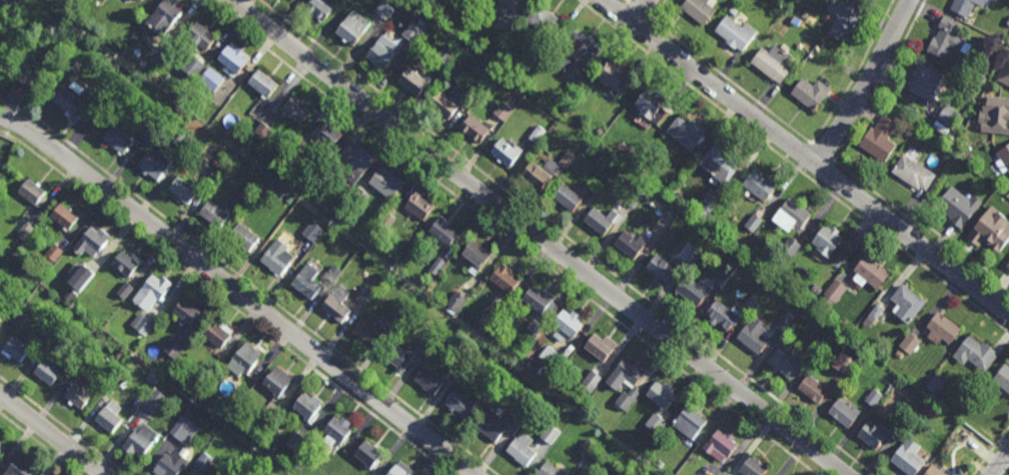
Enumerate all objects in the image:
building: (144, 0)
building: (291, 0)
building: (138, 1)
building: (350, 1)
road: (627, 1)
road: (629, 1)
building: (511, 3)
building: (965, 7)
building: (317, 9)
road: (637, 9)
road: (660, 10)
building: (698, 10)
building: (384, 11)
road: (640, 11)
building: (732, 11)
road: (619, 13)
building: (805, 15)
building: (0, 17)
building: (162, 17)
building: (466, 21)
building: (843, 21)
building: (542, 22)
building: (1008, 23)
building: (351, 29)
road: (643, 31)
building: (413, 33)
building: (735, 34)
building: (199, 37)
building: (51, 41)
building: (949, 41)
building: (574, 51)
building: (382, 54)
building: (499, 54)
building: (446, 55)
building: (231, 60)
building: (772, 64)
building: (193, 68)
road: (856, 73)
building: (1004, 75)
building: (614, 77)
building: (982, 79)
building: (212, 80)
building: (413, 81)
road: (731, 81)
road: (883, 82)
building: (922, 82)
building: (260, 84)
road: (868, 84)
building: (468, 94)
building: (809, 94)
building: (87, 95)
building: (68, 102)
building: (651, 106)
building: (443, 107)
building: (295, 111)
building: (176, 112)
building: (504, 112)
building: (210, 116)
building: (949, 117)
building: (995, 118)
building: (150, 127)
building: (941, 128)
building: (262, 131)
building: (472, 131)
building: (685, 132)
building: (326, 134)
building: (538, 136)
building: (879, 139)
building: (184, 140)
building: (116, 142)
building: (547, 148)
building: (621, 148)
road: (820, 151)
building: (505, 153)
road: (802, 155)
road: (807, 155)
building: (291, 157)
building: (1005, 158)
building: (689, 159)
building: (567, 160)
building: (719, 162)
building: (353, 163)
building: (643, 163)
road: (793, 166)
building: (154, 167)
road: (824, 171)
building: (913, 171)
building: (534, 176)
building: (208, 180)
building: (321, 181)
building: (386, 183)
building: (759, 186)
building: (182, 190)
building: (280, 193)
building: (30, 194)
building: (360, 196)
building: (241, 197)
building: (634, 197)
building: (565, 198)
building: (731, 201)
building: (704, 203)
building: (419, 208)
building: (958, 208)
building: (213, 215)
building: (791, 215)
building: (63, 218)
building: (600, 220)
building: (386, 221)
building: (753, 221)
road: (920, 223)
building: (21, 227)
building: (313, 230)
building: (443, 231)
building: (991, 231)
road: (508, 237)
road: (539, 237)
road: (566, 237)
building: (243, 238)
building: (91, 243)
building: (829, 243)
building: (629, 245)
building: (790, 245)
building: (52, 252)
building: (475, 254)
building: (689, 254)
building: (275, 257)
building: (126, 264)
building: (437, 265)
building: (1008, 266)
building: (659, 269)
building: (334, 272)
building: (869, 272)
building: (80, 276)
building: (720, 277)
building: (503, 279)
building: (306, 283)
road: (250, 284)
building: (125, 289)
building: (690, 291)
building: (152, 293)
road: (237, 293)
building: (832, 293)
building: (364, 294)
building: (69, 295)
building: (116, 298)
building: (537, 300)
building: (456, 301)
building: (750, 301)
road: (226, 302)
building: (336, 304)
building: (906, 304)
building: (397, 310)
building: (876, 311)
building: (184, 313)
building: (720, 315)
building: (18, 318)
building: (785, 321)
building: (142, 322)
building: (486, 322)
building: (843, 322)
building: (567, 324)
building: (536, 327)
building: (941, 329)
building: (151, 334)
building: (216, 334)
building: (367, 334)
building: (139, 335)
building: (753, 335)
building: (431, 336)
building: (52, 338)
building: (910, 342)
building: (174, 347)
building: (598, 347)
building: (812, 349)
building: (12, 350)
building: (119, 353)
building: (975, 353)
building: (182, 356)
building: (396, 359)
building: (552, 360)
building: (841, 361)
building: (244, 362)
building: (783, 363)
building: (133, 364)
building: (45, 373)
building: (622, 374)
building: (1002, 378)
building: (591, 380)
building: (428, 383)
building: (274, 385)
building: (935, 385)
building: (813, 389)
building: (487, 393)
building: (661, 395)
building: (873, 397)
building: (75, 398)
building: (201, 399)
building: (627, 399)
building: (151, 402)
building: (456, 405)
building: (307, 407)
building: (843, 413)
building: (265, 417)
building: (516, 417)
building: (107, 422)
building: (576, 422)
building: (654, 422)
building: (688, 423)
road: (62, 426)
building: (488, 426)
building: (183, 429)
building: (278, 430)
building: (337, 431)
road: (52, 434)
building: (549, 434)
building: (872, 435)
building: (945, 437)
building: (144, 440)
building: (297, 441)
road: (39, 444)
building: (1, 446)
building: (719, 446)
building: (588, 448)
building: (521, 449)
road: (990, 450)
building: (270, 451)
building: (308, 454)
building: (366, 456)
building: (966, 456)
building: (905, 457)
building: (203, 461)
building: (658, 464)
road: (1001, 464)
building: (166, 467)
building: (752, 467)
building: (20, 468)
building: (546, 470)
building: (618, 471)
building: (933, 471)
building: (395, 472)
building: (236, 474)
building: (357, 474)
building: (358, 474)
building: (694, 474)
building: (696, 474)
road: (1008, 474)

